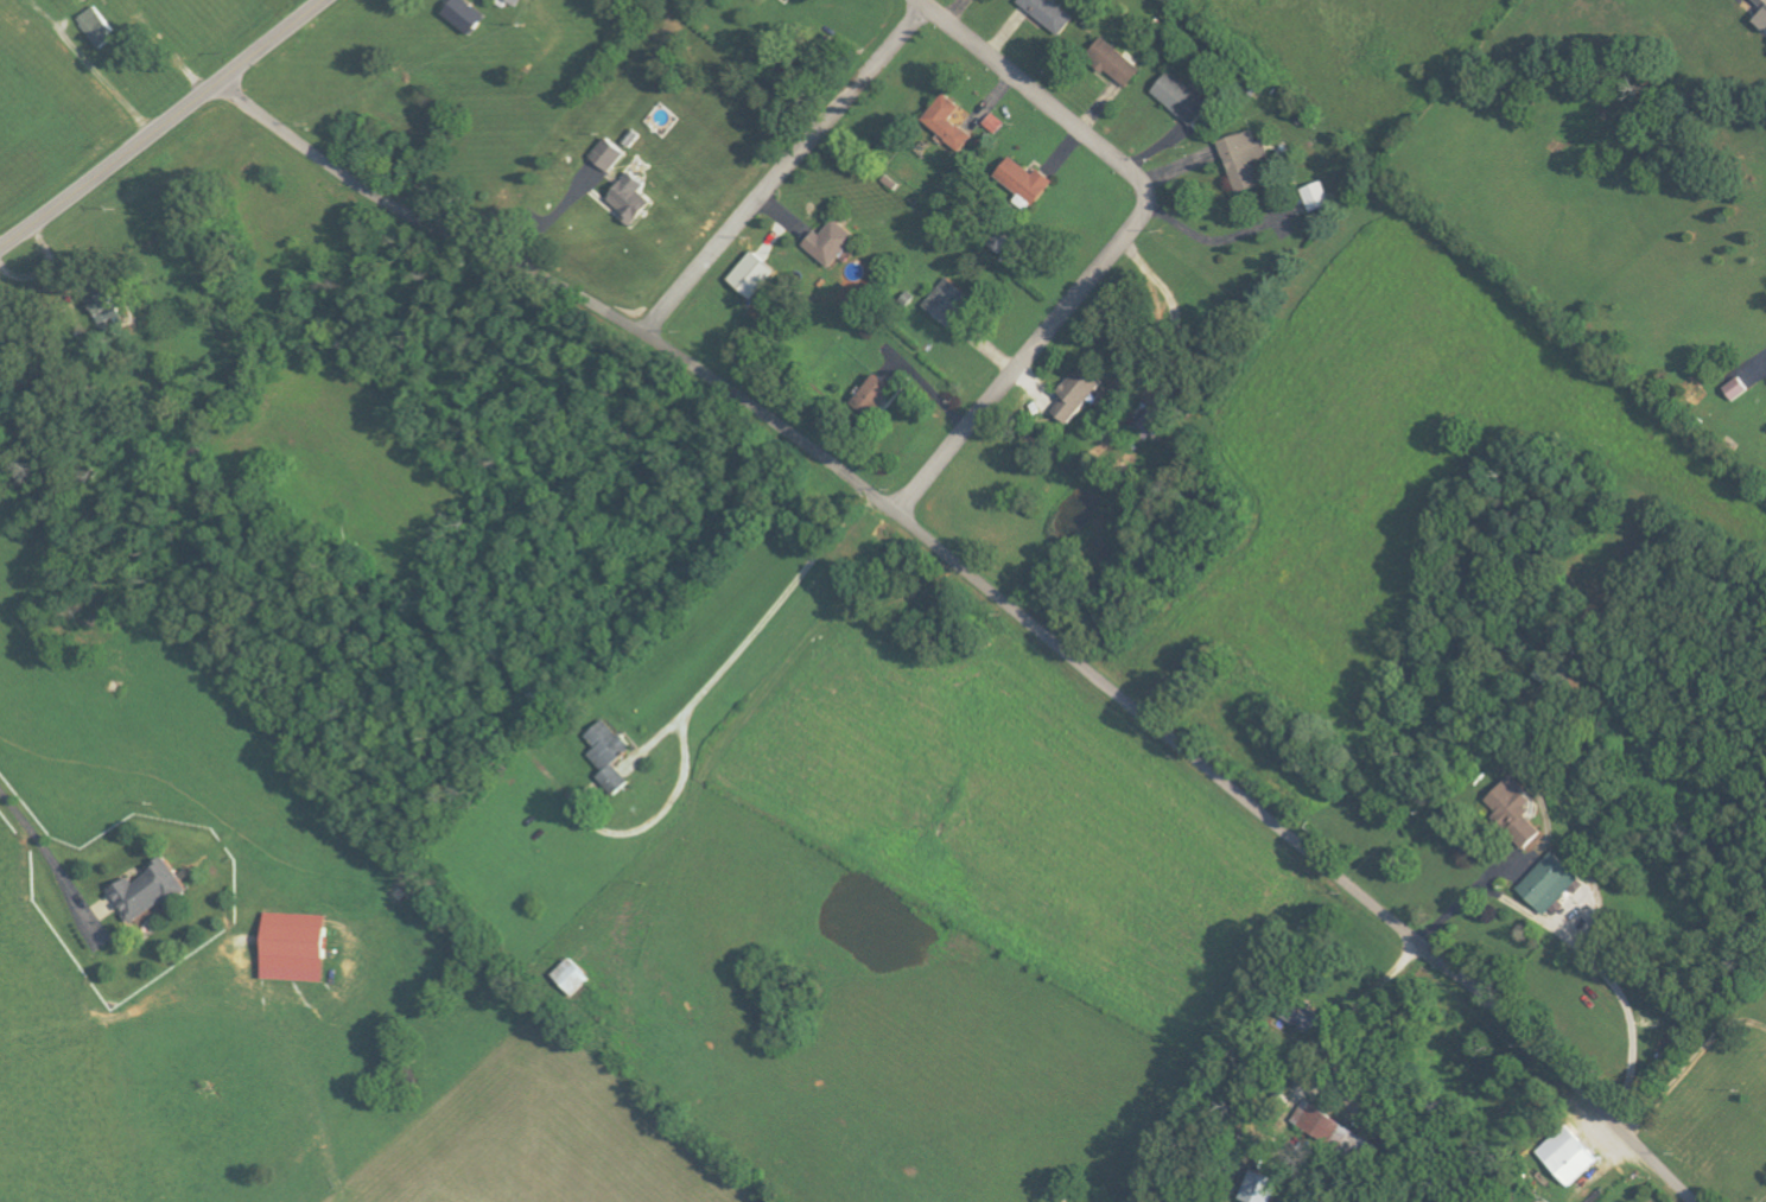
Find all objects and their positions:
building: (516, 1)
building: (1762, 2)
building: (1052, 13)
building: (466, 15)
building: (1762, 20)
building: (99, 27)
building: (1117, 63)
building: (1184, 98)
building: (949, 122)
building: (995, 123)
road: (163, 125)
building: (611, 155)
building: (1246, 159)
road: (787, 171)
building: (1028, 180)
building: (1320, 197)
building: (635, 198)
road: (1124, 241)
road: (1209, 241)
building: (833, 243)
building: (757, 275)
building: (949, 301)
building: (1738, 389)
building: (877, 394)
building: (1078, 395)
building: (1146, 424)
road: (995, 592)
road: (758, 628)
building: (611, 755)
building: (1519, 813)
road: (49, 861)
building: (1552, 884)
building: (152, 891)
road: (1467, 895)
building: (298, 948)
building: (574, 978)
road: (1359, 1005)
road: (1690, 1061)
building: (1336, 1130)
building: (1570, 1155)
building: (1264, 1187)

